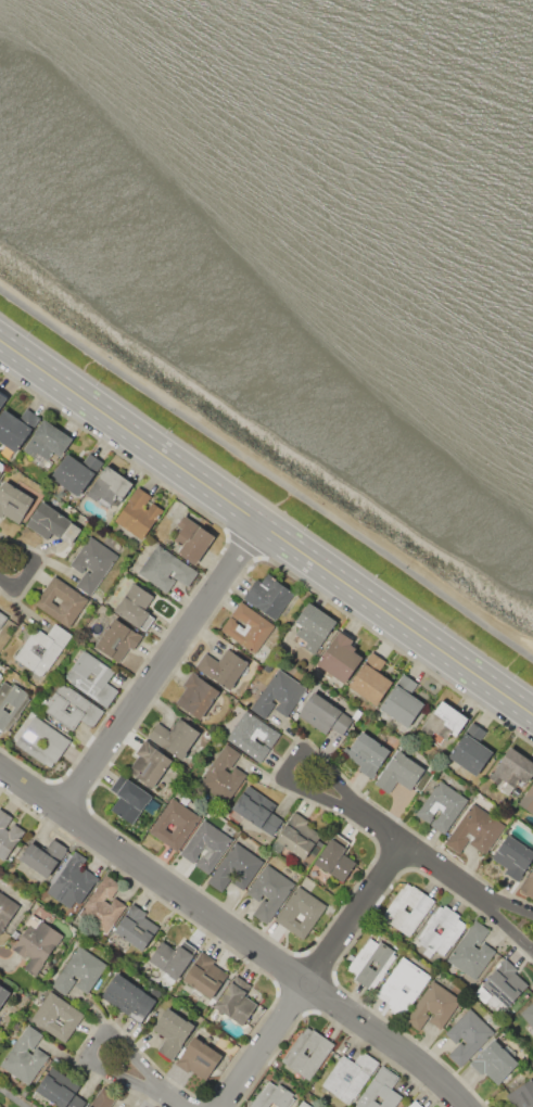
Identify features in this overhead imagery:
building: (2, 399)
building: (16, 429)
building: (47, 443)
building: (2, 467)
building: (76, 473)
building: (111, 487)
building: (14, 502)
building: (138, 513)
building: (52, 524)
road: (266, 527)
building: (191, 539)
road: (241, 545)
building: (91, 563)
road: (39, 565)
road: (28, 568)
building: (165, 569)
road: (205, 571)
building: (267, 595)
building: (61, 601)
building: (136, 607)
building: (2, 619)
building: (313, 626)
building: (246, 627)
building: (116, 639)
building: (42, 648)
building: (339, 657)
road: (158, 666)
building: (223, 667)
building: (0, 674)
building: (92, 677)
building: (369, 679)
building: (279, 695)
building: (195, 697)
building: (403, 701)
building: (11, 703)
building: (72, 707)
building: (323, 714)
building: (445, 721)
building: (252, 736)
building: (174, 737)
building: (41, 741)
building: (470, 751)
building: (366, 753)
building: (148, 764)
road: (291, 764)
building: (512, 768)
building: (399, 773)
building: (223, 775)
road: (68, 792)
building: (131, 799)
building: (528, 800)
building: (441, 805)
building: (254, 810)
building: (174, 824)
building: (474, 830)
building: (8, 835)
building: (294, 836)
building: (206, 845)
road: (418, 854)
building: (42, 855)
building: (512, 856)
building: (335, 857)
road: (390, 857)
building: (237, 867)
road: (176, 873)
building: (72, 881)
building: (528, 883)
building: (269, 892)
building: (102, 906)
road: (490, 906)
building: (407, 908)
building: (5, 909)
road: (352, 911)
building: (300, 912)
building: (136, 927)
building: (441, 929)
road: (234, 933)
road: (353, 937)
building: (36, 942)
building: (471, 951)
building: (172, 957)
building: (371, 963)
building: (79, 971)
building: (204, 975)
road: (331, 976)
building: (504, 982)
building: (403, 985)
building: (3, 994)
building: (128, 997)
building: (234, 1001)
building: (433, 1006)
building: (528, 1014)
building: (56, 1016)
road: (259, 1018)
road: (329, 1018)
building: (172, 1032)
building: (467, 1035)
road: (92, 1041)
road: (263, 1044)
building: (307, 1052)
building: (24, 1056)
building: (198, 1057)
building: (494, 1061)
building: (348, 1077)
building: (380, 1091)
building: (63, 1092)
building: (522, 1094)
building: (272, 1096)
road: (11, 1098)
park: (12, 1098)
road: (177, 1100)
road: (211, 1102)
building: (303, 1104)
building: (415, 1104)
building: (89, 1106)

